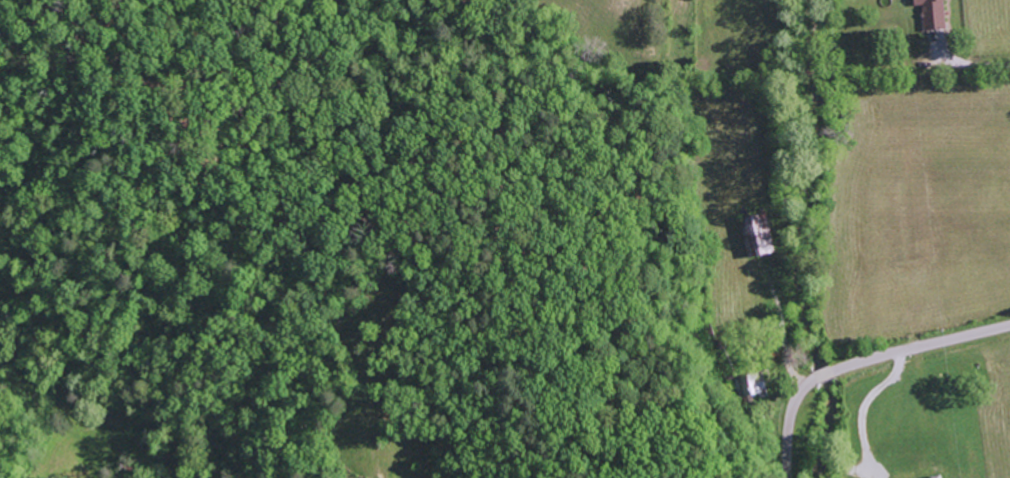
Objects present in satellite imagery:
building: (938, 15)
building: (758, 238)
road: (921, 346)
road: (825, 376)
road: (793, 426)
building: (945, 477)

